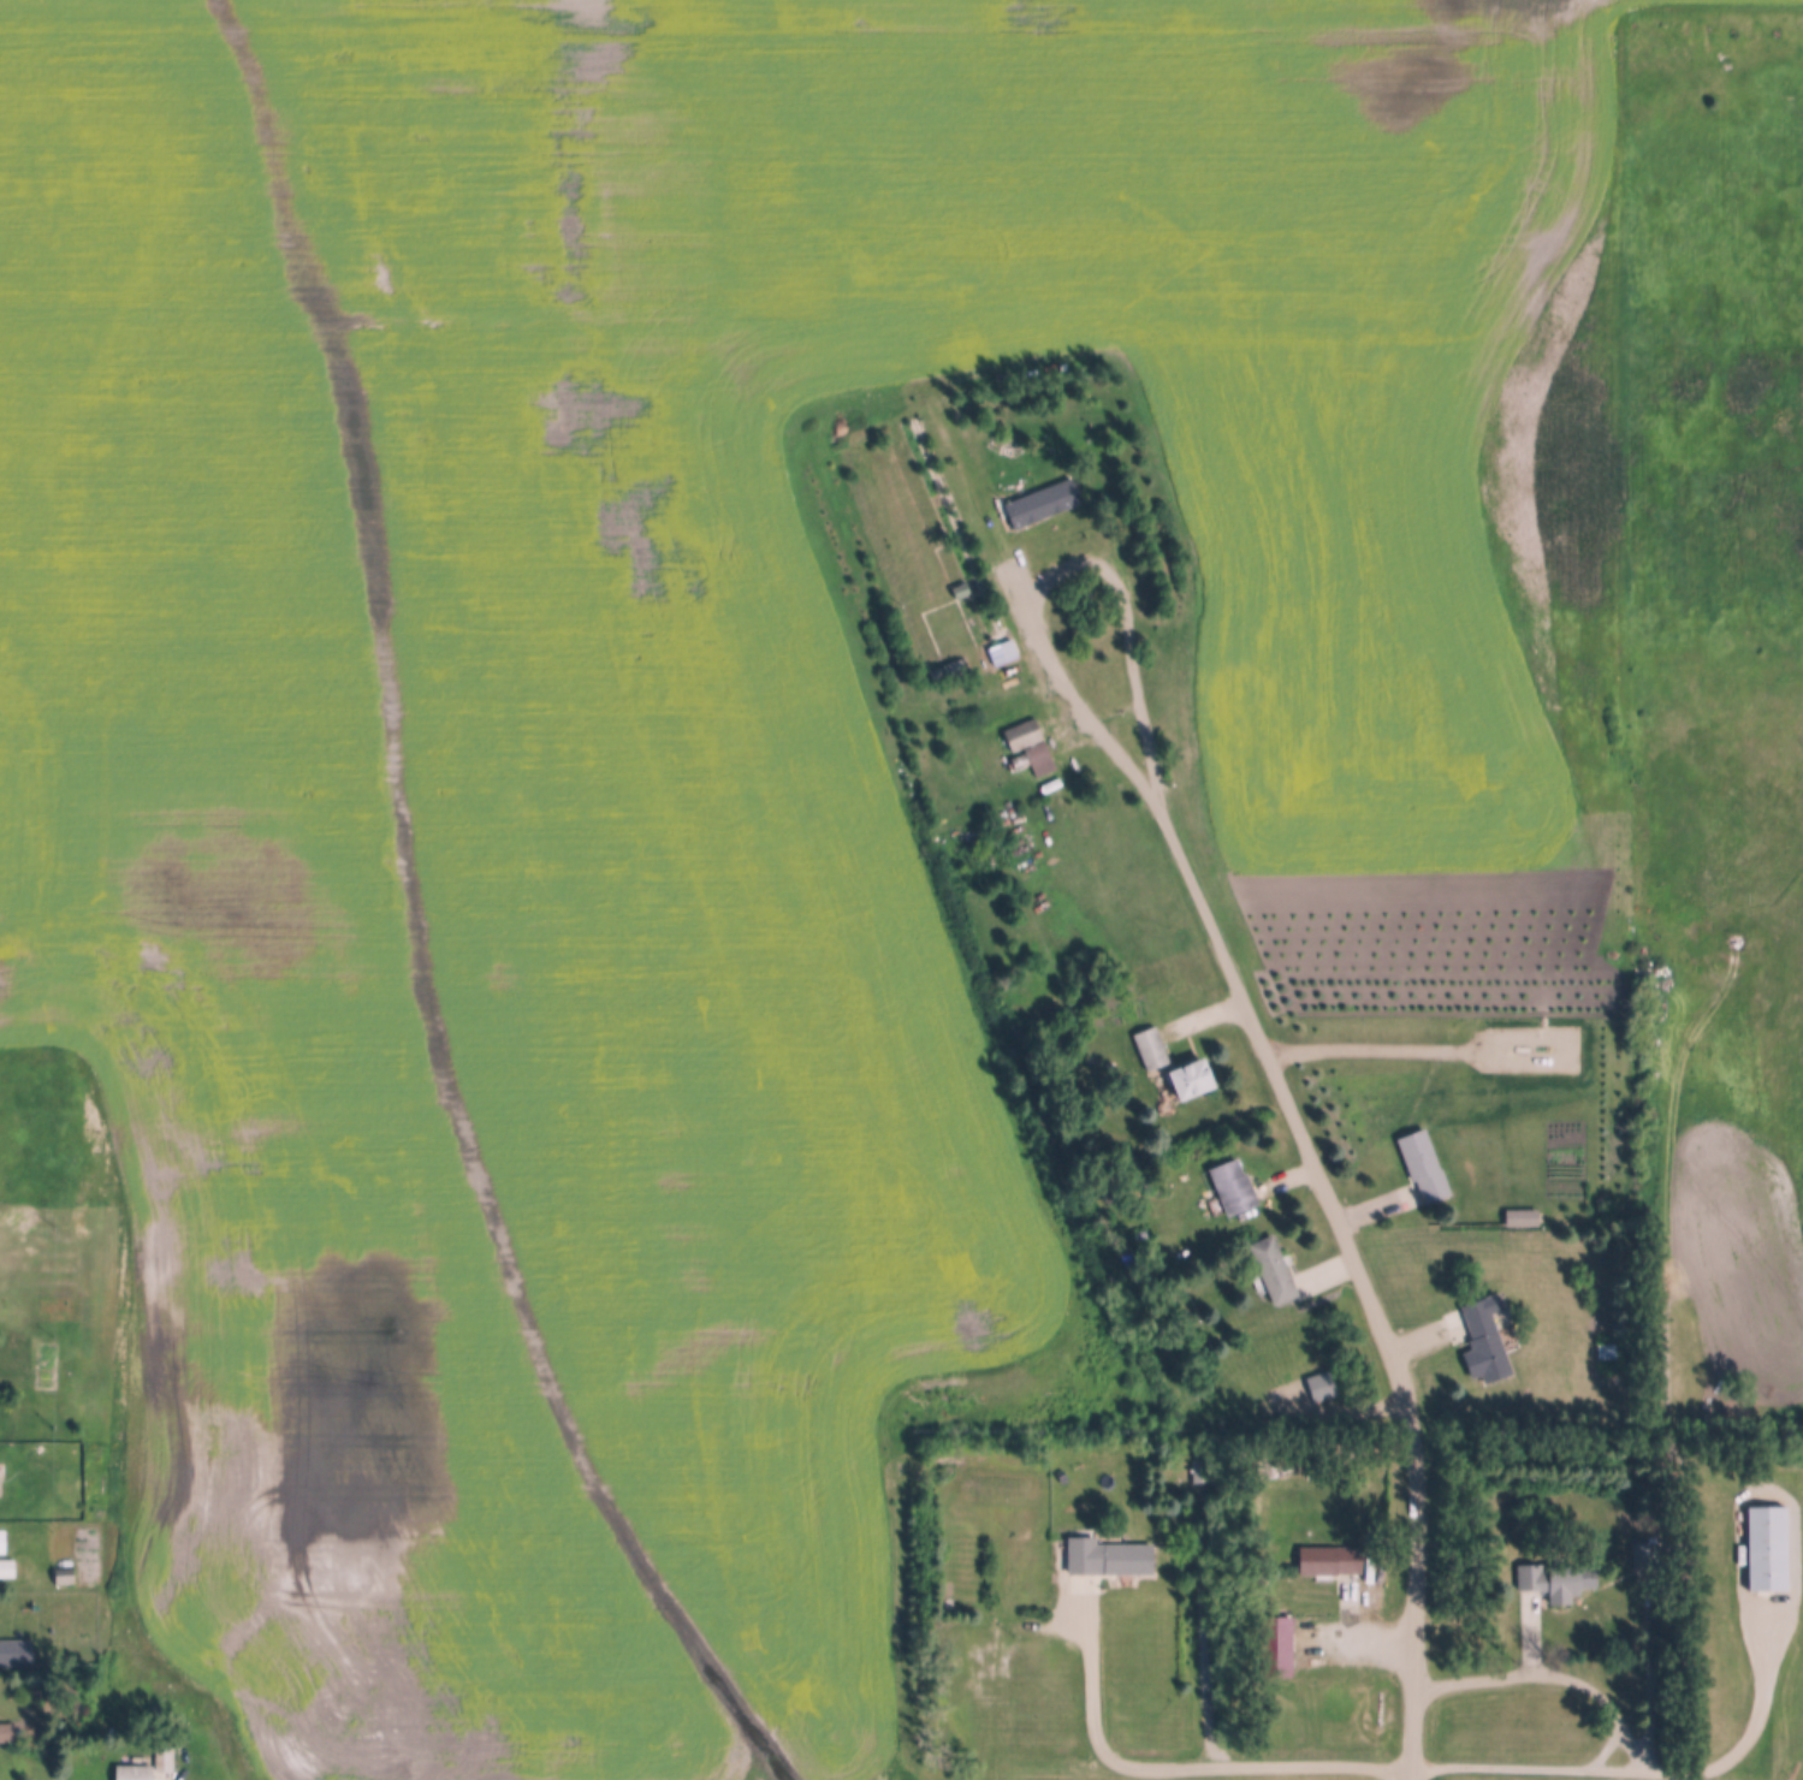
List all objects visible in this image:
building: (1043, 503)
building: (1003, 653)
building: (948, 671)
road: (1073, 689)
building: (1025, 736)
building: (1042, 760)
building: (1152, 1050)
building: (1196, 1080)
road: (1298, 1119)
building: (1425, 1167)
building: (1234, 1187)
building: (1513, 1221)
building: (1275, 1271)
building: (1489, 1337)
building: (1606, 1351)
building: (1322, 1388)
building: (1200, 1467)
building: (0, 1490)
building: (73, 1515)
building: (4, 1543)
building: (1771, 1549)
building: (1110, 1557)
building: (1332, 1561)
building: (7, 1570)
building: (65, 1576)
building: (1559, 1583)
building: (1280, 1646)
building: (17, 1654)
road: (1762, 1721)
building: (7, 1733)
building: (179, 1757)
building: (164, 1760)
road: (1283, 1769)
building: (136, 1773)

